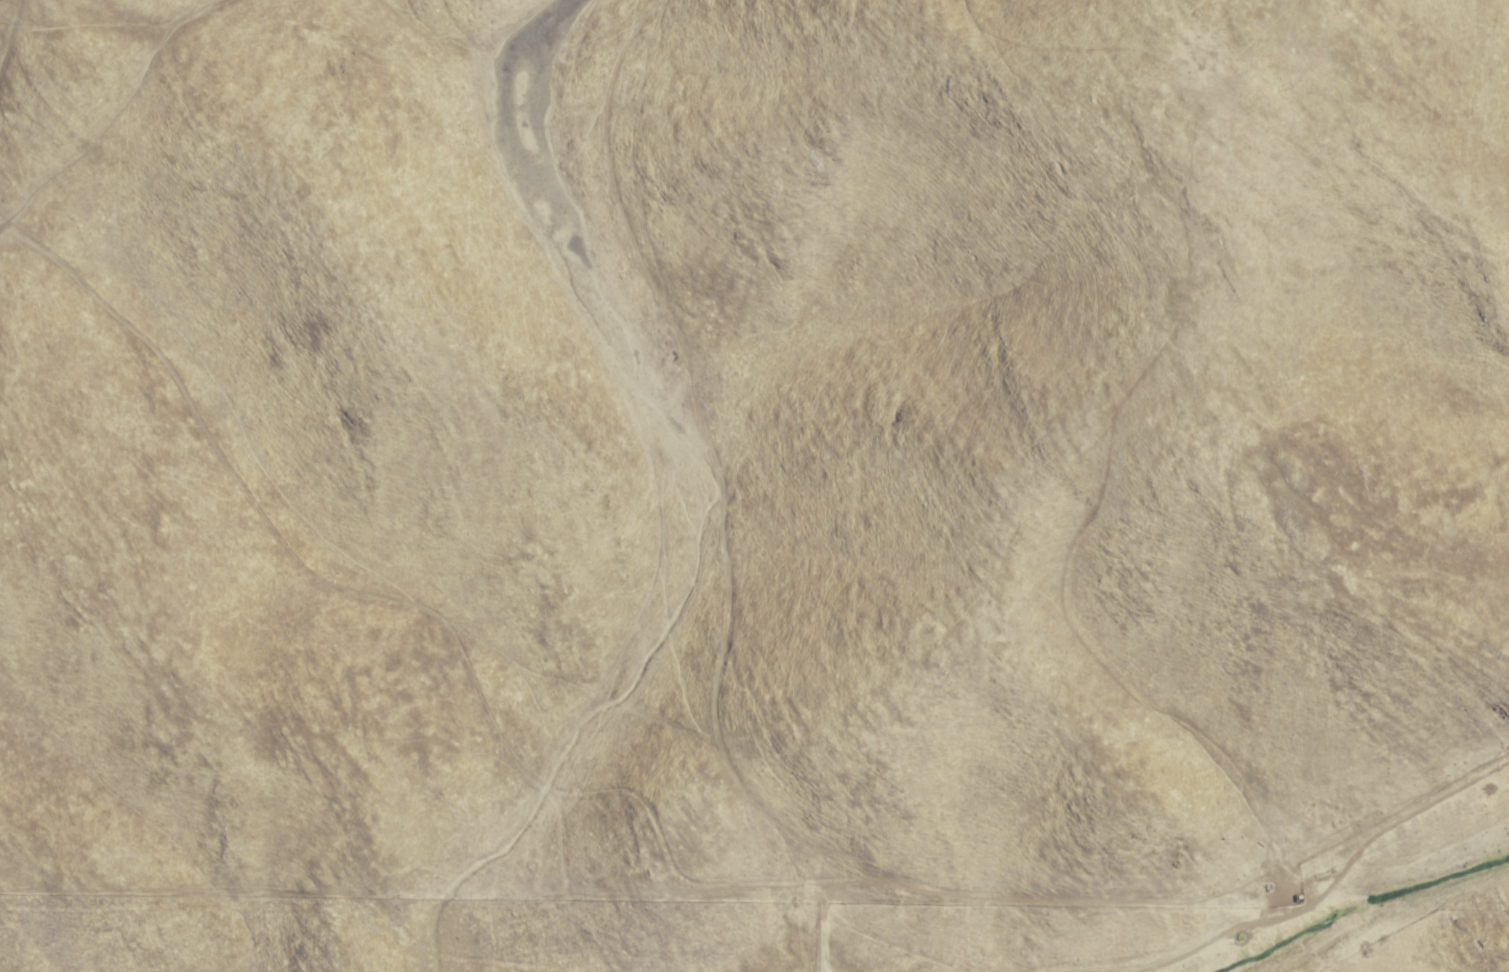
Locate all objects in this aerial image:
road: (1112, 939)

